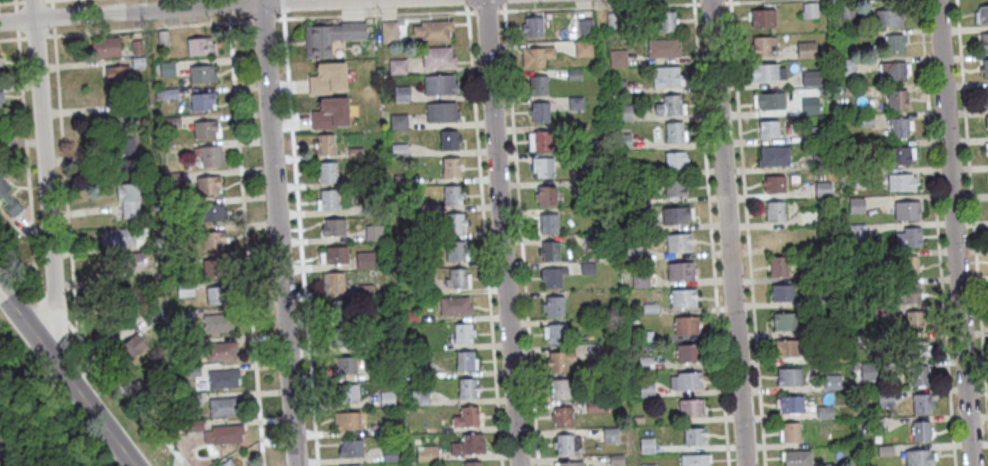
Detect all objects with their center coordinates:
road: (14, 0)
road: (25, 0)
road: (710, 0)
road: (726, 0)
road: (7, 1)
road: (692, 1)
road: (464, 2)
road: (502, 2)
road: (695, 2)
road: (51, 3)
road: (648, 4)
road: (15, 5)
road: (281, 5)
road: (166, 6)
road: (228, 6)
road: (599, 6)
road: (545, 7)
road: (484, 10)
building: (807, 10)
building: (846, 10)
road: (374, 13)
building: (981, 14)
road: (52, 15)
road: (228, 17)
building: (761, 17)
building: (887, 17)
road: (262, 18)
road: (16, 19)
road: (239, 20)
building: (610, 20)
building: (665, 20)
building: (532, 26)
road: (141, 27)
building: (584, 27)
road: (52, 29)
building: (432, 31)
building: (388, 32)
road: (17, 33)
building: (570, 35)
road: (35, 36)
building: (329, 37)
road: (8, 38)
building: (162, 38)
building: (983, 41)
building: (761, 44)
building: (893, 44)
building: (199, 46)
building: (105, 47)
building: (136, 48)
building: (662, 48)
building: (834, 48)
building: (582, 49)
building: (805, 50)
building: (536, 56)
building: (436, 57)
building: (617, 58)
road: (603, 59)
building: (137, 63)
building: (1, 67)
building: (396, 67)
building: (845, 67)
building: (984, 68)
building: (166, 69)
building: (762, 71)
building: (891, 71)
building: (116, 72)
building: (200, 73)
building: (573, 74)
building: (666, 76)
building: (327, 78)
building: (812, 78)
building: (537, 84)
building: (439, 85)
building: (618, 87)
building: (401, 94)
building: (166, 95)
building: (985, 95)
building: (1, 96)
building: (895, 99)
building: (768, 100)
building: (202, 101)
building: (574, 103)
building: (668, 105)
building: (808, 106)
building: (0, 108)
building: (539, 110)
building: (329, 112)
building: (441, 112)
building: (622, 113)
building: (126, 118)
building: (863, 120)
building: (986, 120)
building: (398, 121)
building: (172, 123)
building: (898, 127)
building: (768, 128)
building: (206, 129)
building: (674, 131)
building: (810, 134)
building: (544, 138)
building: (623, 139)
building: (448, 140)
building: (324, 144)
building: (125, 147)
building: (398, 150)
building: (986, 151)
building: (354, 153)
building: (208, 155)
building: (897, 155)
building: (773, 156)
building: (581, 158)
road: (26, 159)
building: (674, 160)
building: (819, 161)
building: (128, 167)
building: (450, 167)
building: (542, 167)
building: (624, 170)
building: (326, 171)
building: (572, 174)
building: (859, 176)
building: (176, 178)
building: (400, 180)
building: (900, 182)
road: (65, 183)
building: (774, 183)
road: (46, 184)
building: (207, 185)
building: (582, 186)
building: (673, 188)
building: (822, 189)
building: (453, 194)
building: (545, 195)
building: (8, 199)
building: (129, 200)
building: (327, 200)
building: (628, 200)
building: (855, 205)
building: (369, 209)
building: (773, 210)
building: (906, 210)
road: (971, 211)
building: (209, 212)
building: (674, 214)
building: (808, 217)
building: (455, 223)
building: (547, 223)
building: (635, 223)
building: (333, 227)
road: (747, 232)
building: (855, 232)
road: (276, 233)
building: (373, 233)
road: (500, 233)
road: (727, 233)
road: (936, 233)
road: (953, 233)
building: (399, 234)
road: (520, 234)
road: (710, 234)
road: (483, 235)
road: (299, 237)
building: (117, 238)
building: (778, 238)
building: (908, 238)
building: (213, 240)
building: (678, 242)
building: (160, 243)
road: (245, 243)
building: (454, 251)
building: (549, 251)
building: (631, 252)
building: (335, 253)
building: (364, 260)
building: (424, 260)
building: (869, 260)
building: (132, 262)
building: (214, 265)
building: (777, 265)
building: (907, 265)
building: (586, 268)
road: (27, 271)
building: (680, 271)
building: (807, 275)
building: (552, 276)
building: (457, 277)
building: (333, 280)
building: (639, 280)
building: (427, 285)
building: (365, 287)
building: (184, 288)
building: (782, 291)
building: (904, 292)
building: (219, 293)
building: (683, 296)
building: (818, 298)
building: (456, 304)
building: (555, 304)
building: (340, 307)
building: (651, 307)
building: (880, 311)
building: (188, 313)
building: (149, 315)
building: (413, 315)
building: (915, 318)
building: (634, 319)
building: (785, 319)
building: (220, 322)
building: (687, 323)
building: (823, 327)
building: (464, 331)
building: (556, 331)
building: (646, 334)
building: (340, 335)
building: (377, 341)
building: (866, 342)
building: (131, 346)
building: (190, 346)
building: (786, 346)
building: (916, 346)
building: (221, 349)
building: (608, 350)
building: (688, 350)
building: (836, 354)
building: (561, 358)
building: (467, 359)
building: (646, 361)
building: (345, 363)
building: (192, 368)
building: (420, 368)
building: (377, 371)
building: (869, 371)
building: (790, 374)
building: (919, 374)
building: (224, 376)
road: (66, 378)
building: (687, 378)
building: (833, 381)
road: (121, 385)
building: (468, 385)
building: (561, 386)
building: (648, 387)
building: (347, 391)
building: (194, 396)
building: (420, 396)
building: (886, 396)
building: (388, 398)
building: (923, 401)
building: (791, 402)
building: (226, 403)
building: (599, 405)
building: (692, 405)
building: (825, 411)
building: (467, 414)
building: (563, 414)
building: (347, 418)
building: (640, 419)
building: (196, 423)
building: (390, 425)
building: (877, 425)
park: (30, 426)
building: (921, 428)
building: (791, 429)
building: (225, 432)
building: (612, 434)
building: (695, 434)
building: (469, 442)
building: (568, 442)
building: (648, 444)
building: (352, 446)
road: (633, 447)
building: (886, 449)
building: (428, 451)
building: (390, 452)
building: (919, 456)
building: (798, 457)
building: (617, 458)
building: (695, 458)
building: (473, 461)
building: (227, 462)
building: (569, 462)
building: (350, 464)
building: (649, 464)
building: (825, 464)

